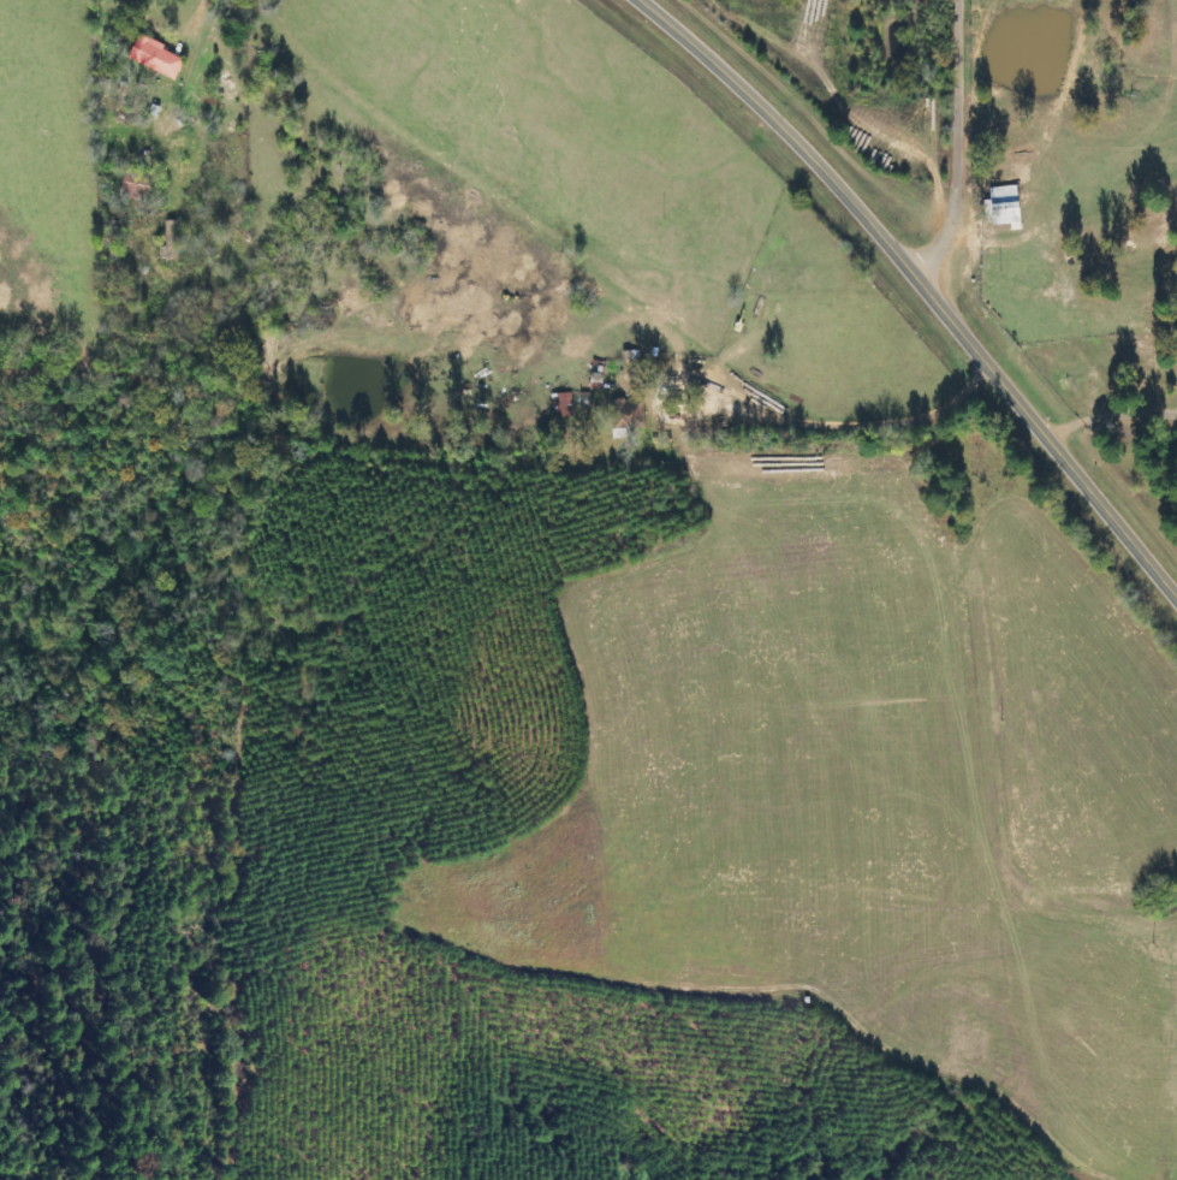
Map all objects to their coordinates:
building: (160, 57)
road: (967, 147)
building: (1010, 206)
building: (174, 241)
road: (922, 284)
building: (624, 417)

